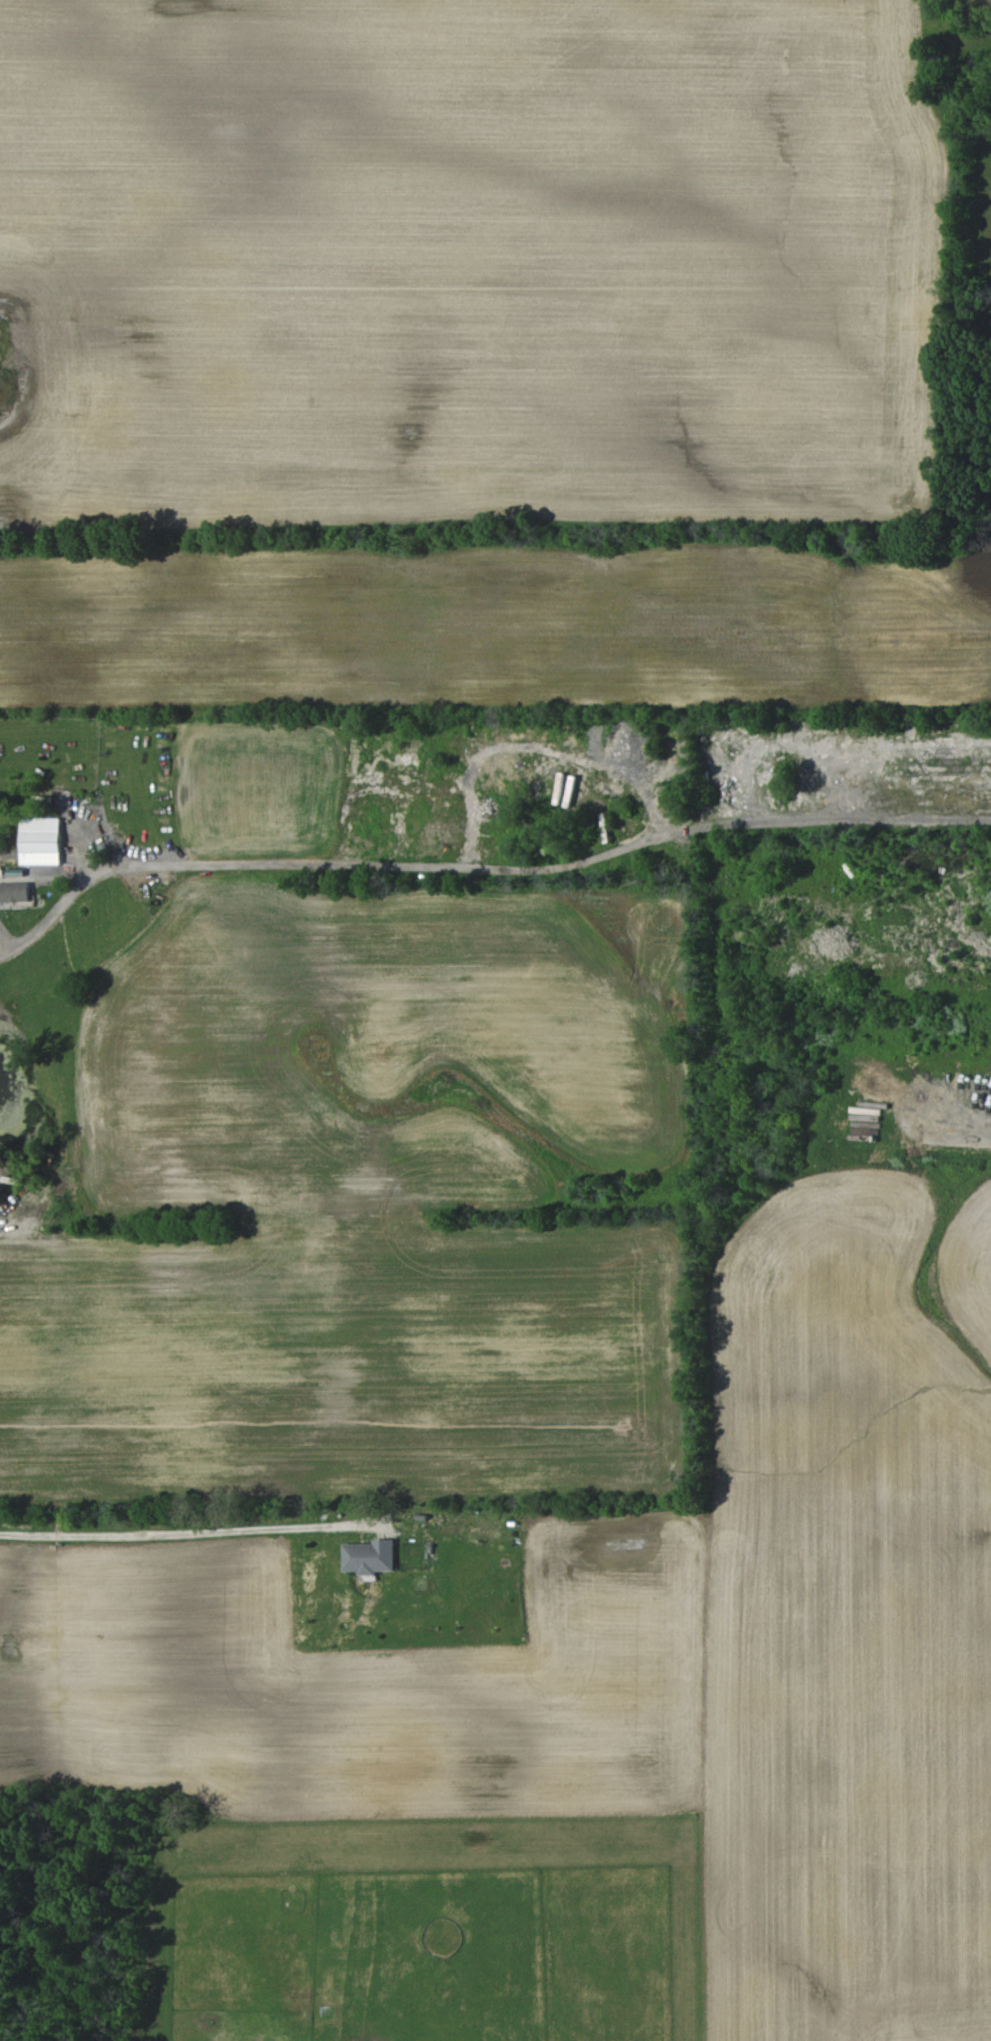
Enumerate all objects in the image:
building: (40, 841)
road: (482, 860)
building: (15, 892)
road: (181, 1531)
building: (370, 1556)

